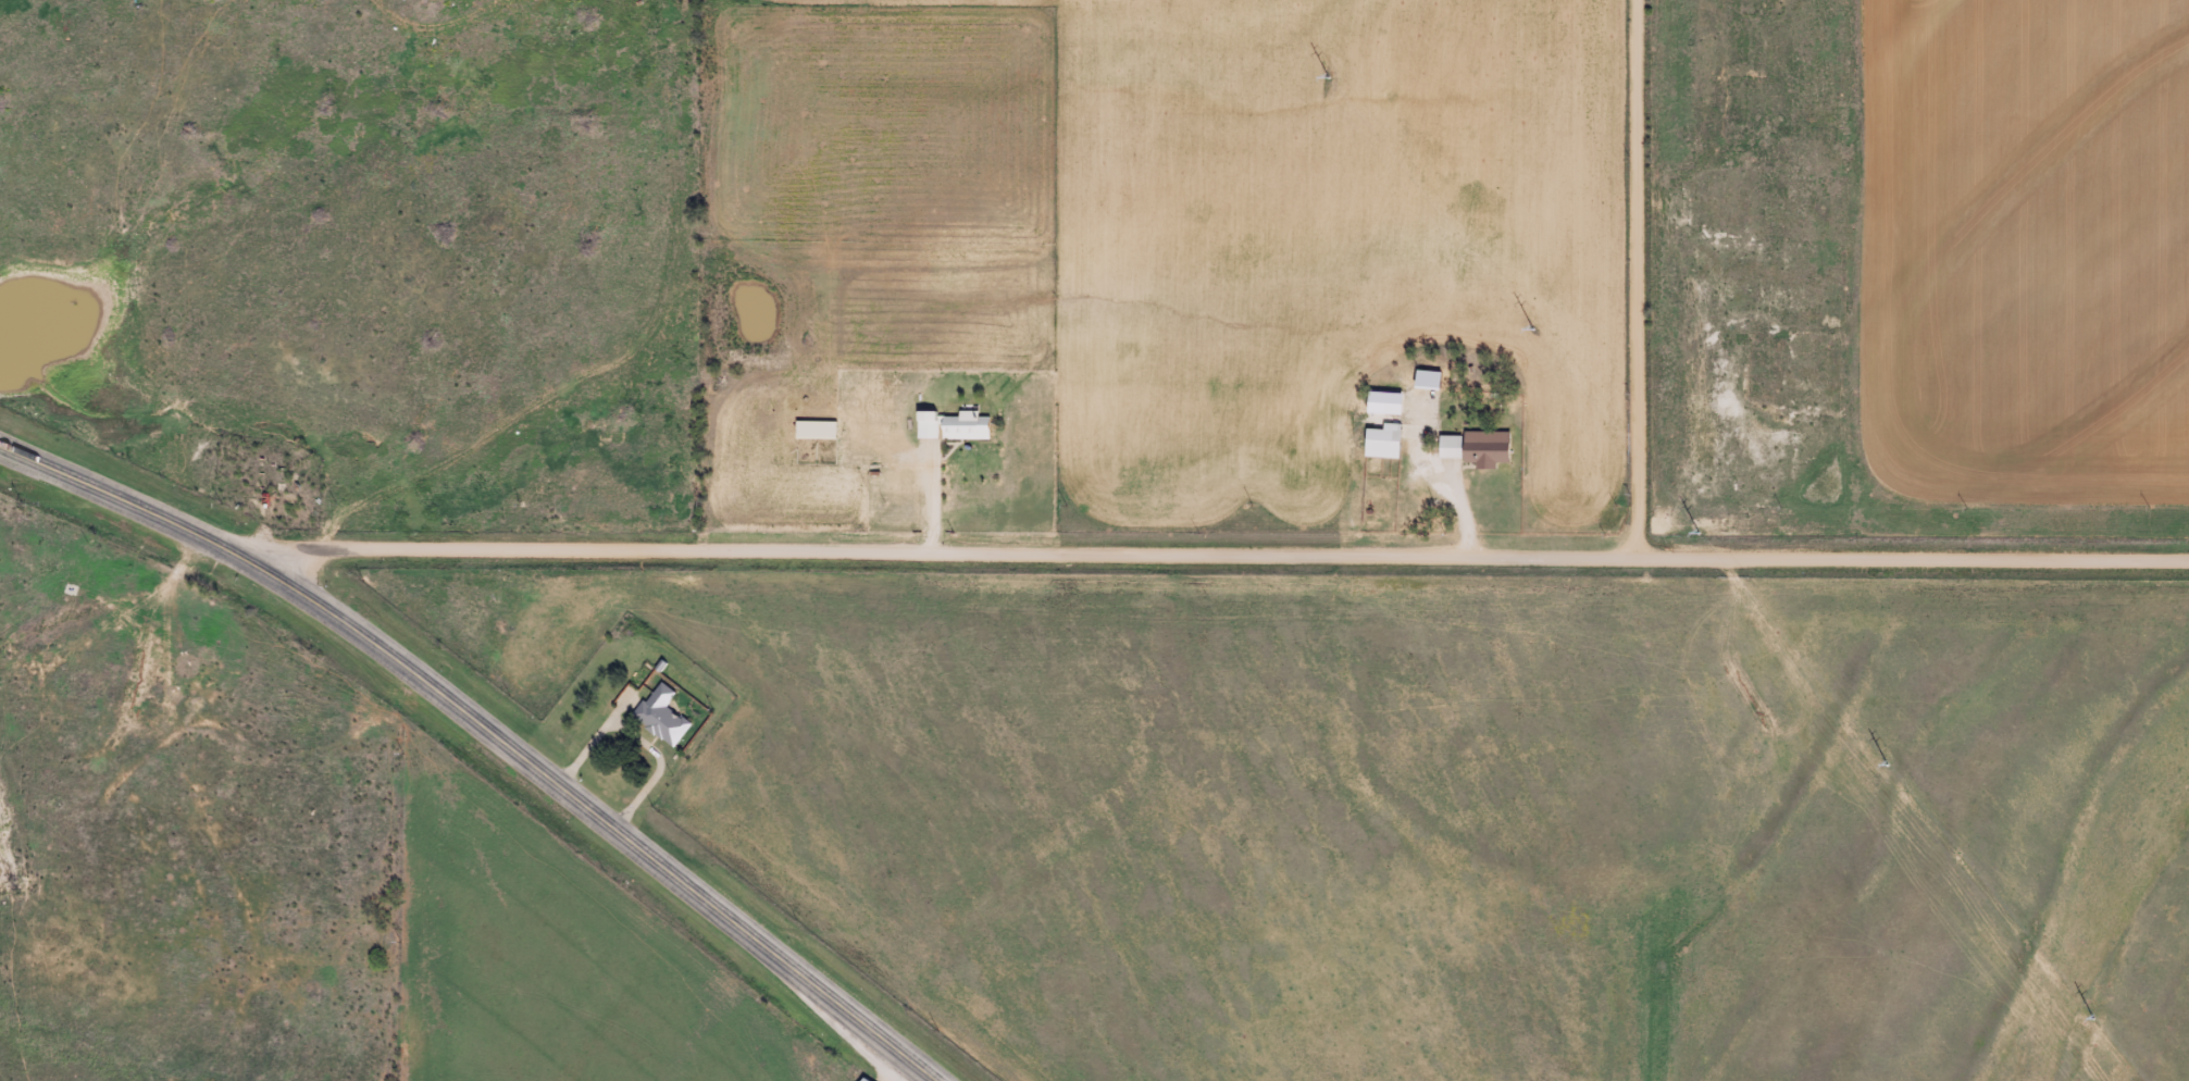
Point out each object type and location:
road: (1641, 278)
building: (948, 425)
building: (1380, 442)
building: (1466, 445)
road: (1216, 554)
building: (658, 716)
road: (486, 733)
building: (861, 1079)

